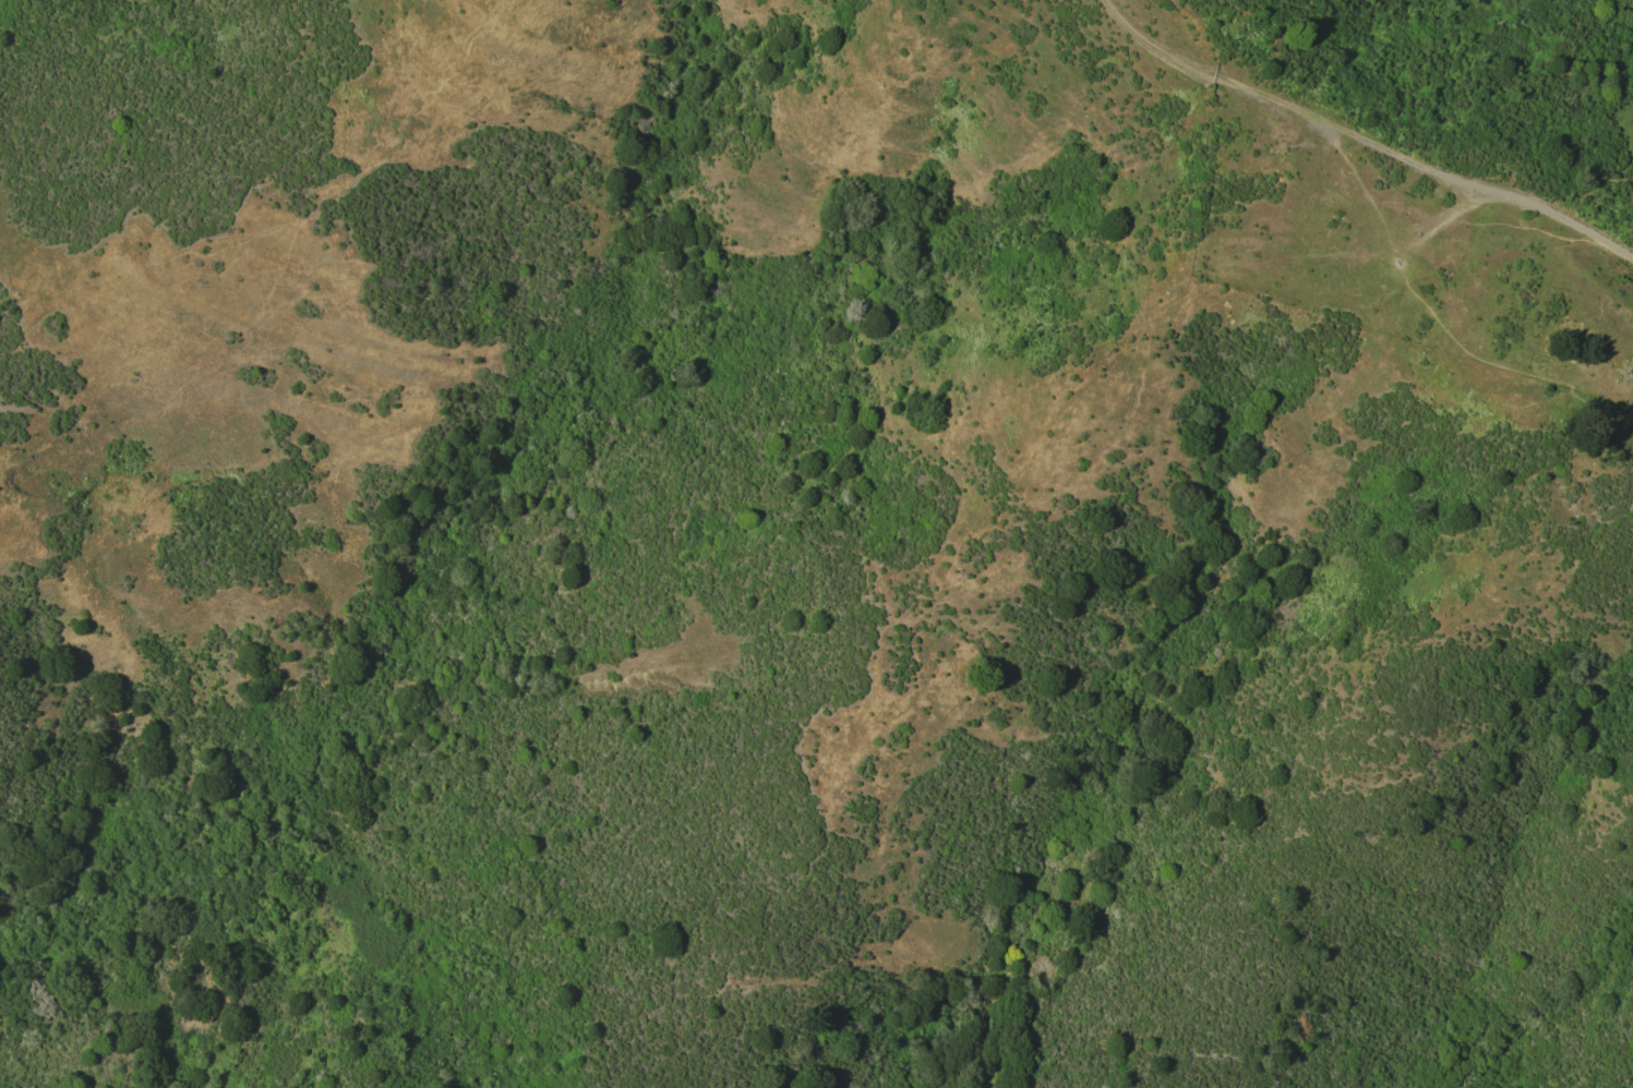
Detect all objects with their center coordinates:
road: (1362, 141)
road: (1391, 241)
road: (1504, 365)

